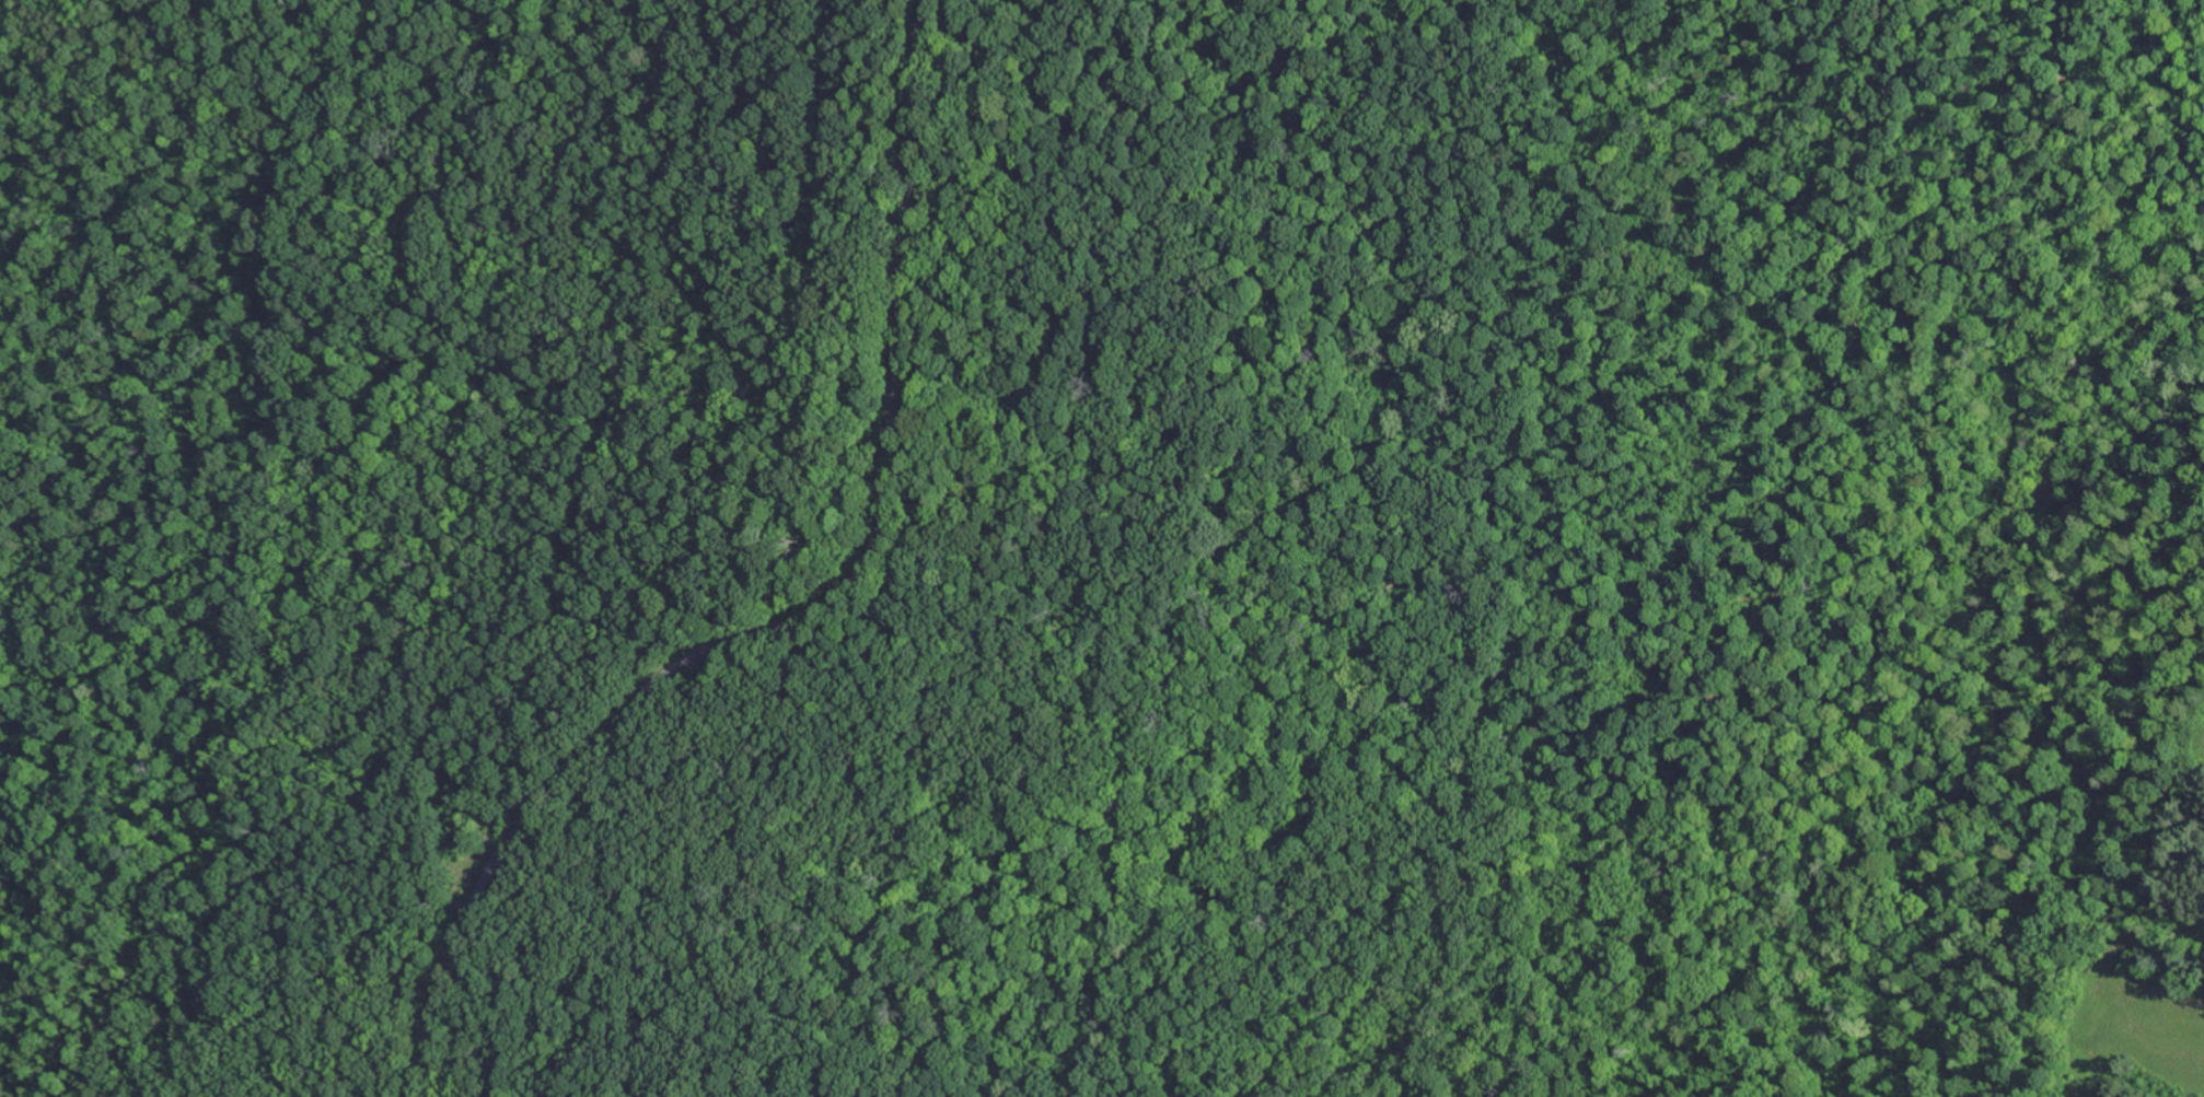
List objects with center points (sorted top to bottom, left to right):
road: (801, 615)

